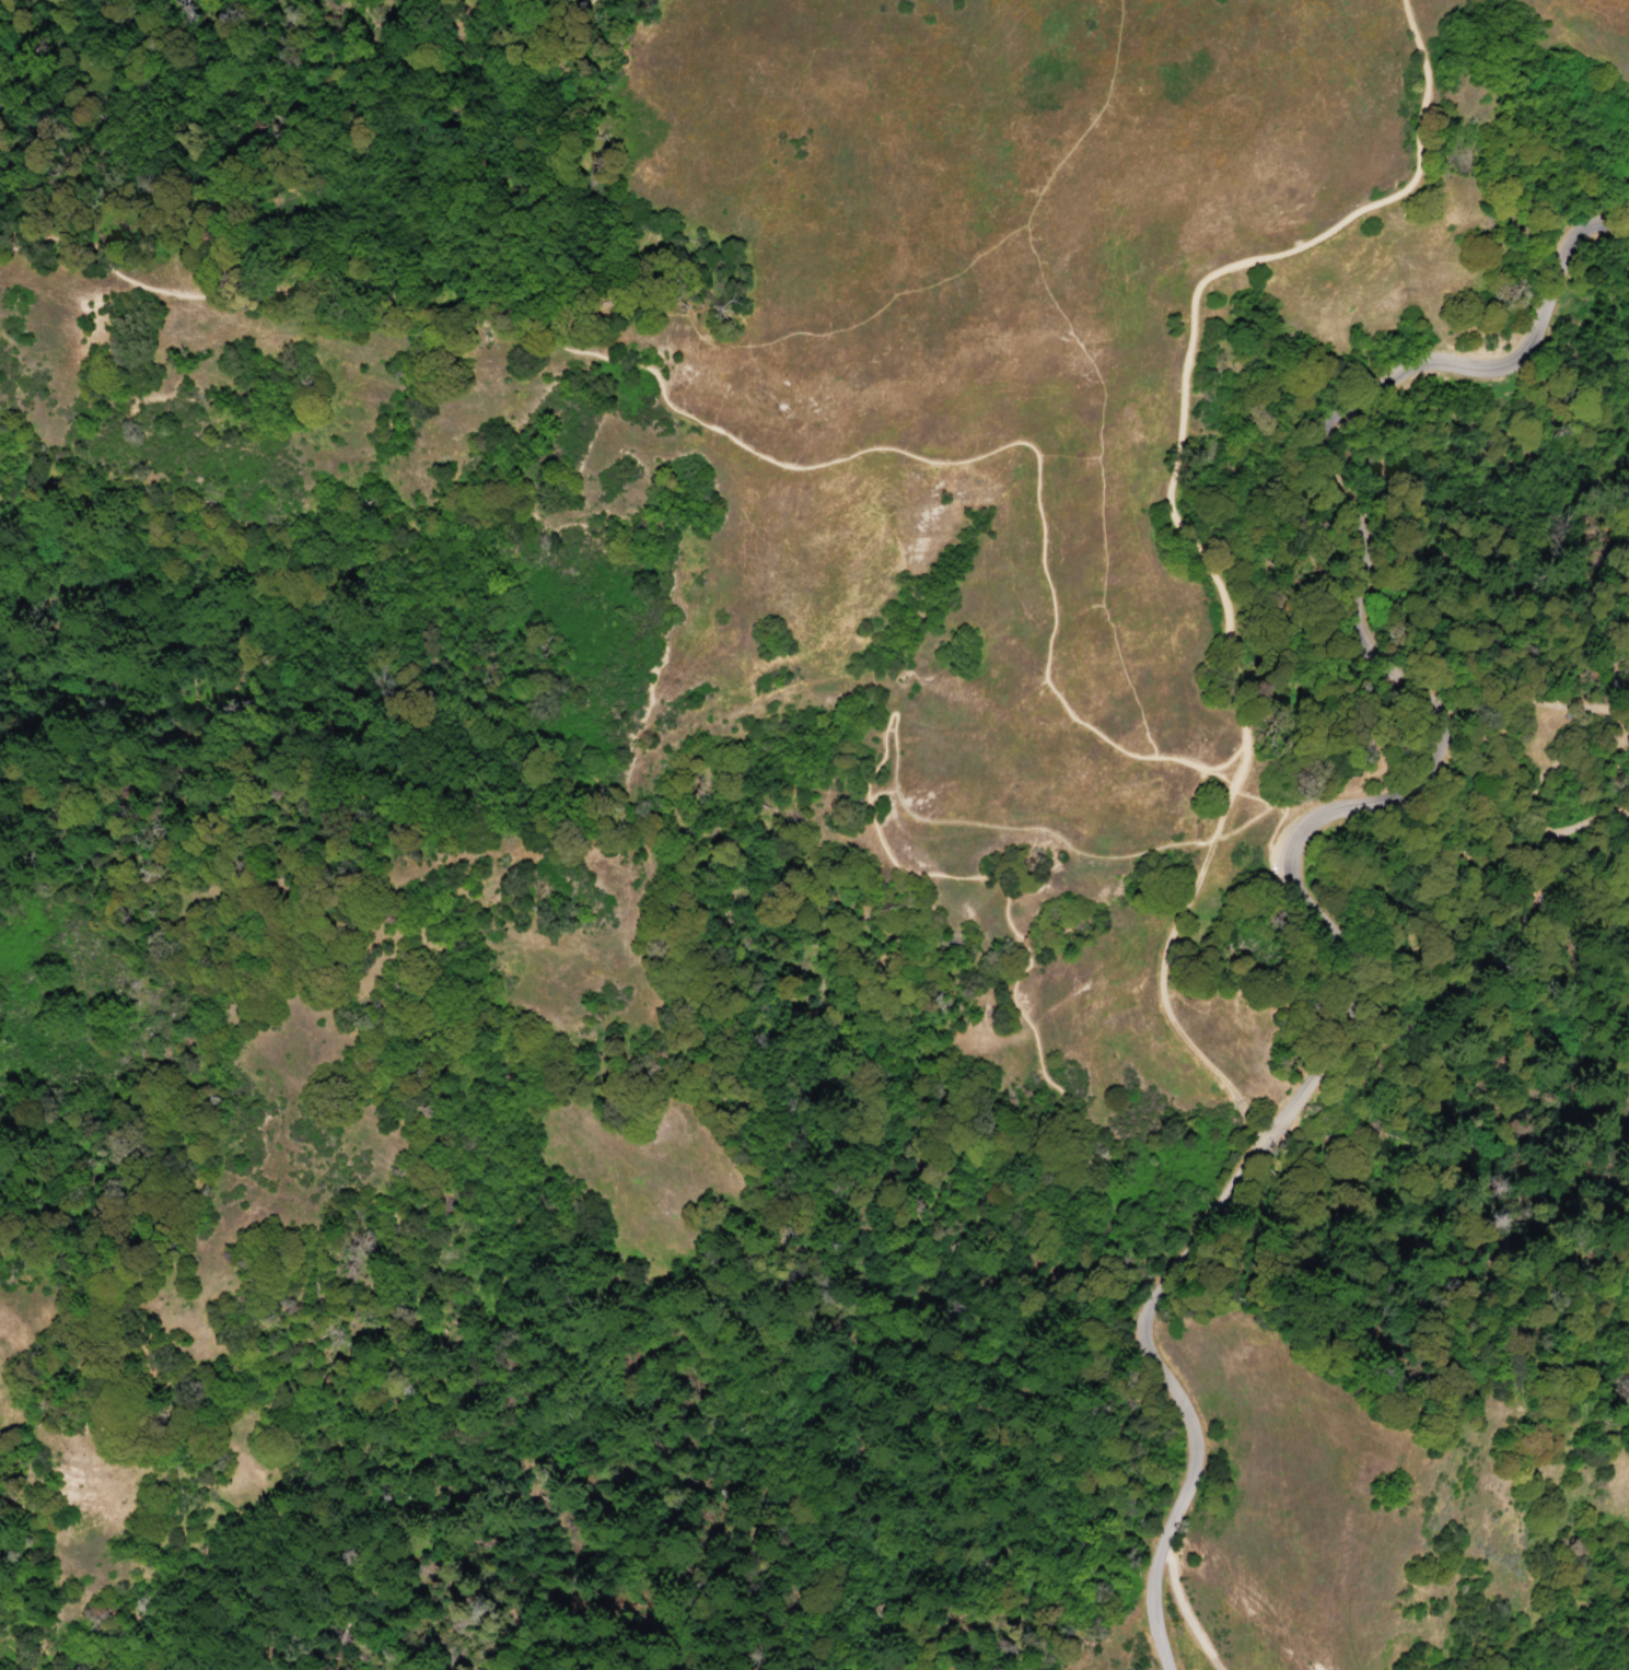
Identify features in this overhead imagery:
road: (559, 174)
road: (1395, 196)
road: (244, 289)
road: (766, 341)
road: (1091, 362)
road: (1337, 427)
road: (974, 456)
road: (1237, 722)
road: (1523, 734)
road: (893, 779)
road: (1281, 815)
parking lot: (1283, 827)
road: (1025, 955)
road: (1067, 1175)
road: (1232, 1188)
road: (1033, 1236)
road: (1024, 1465)
road: (1180, 1607)

